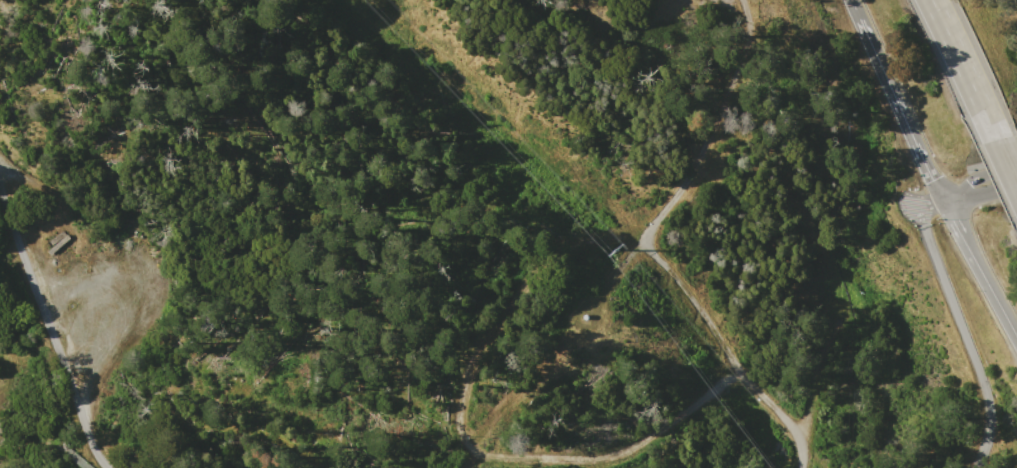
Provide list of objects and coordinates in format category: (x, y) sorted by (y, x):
road: (856, 8)
road: (962, 69)
road: (900, 108)
road: (1006, 163)
road: (979, 187)
road: (646, 246)
power tower: (616, 249)
road: (978, 270)
road: (52, 328)
road: (960, 329)

